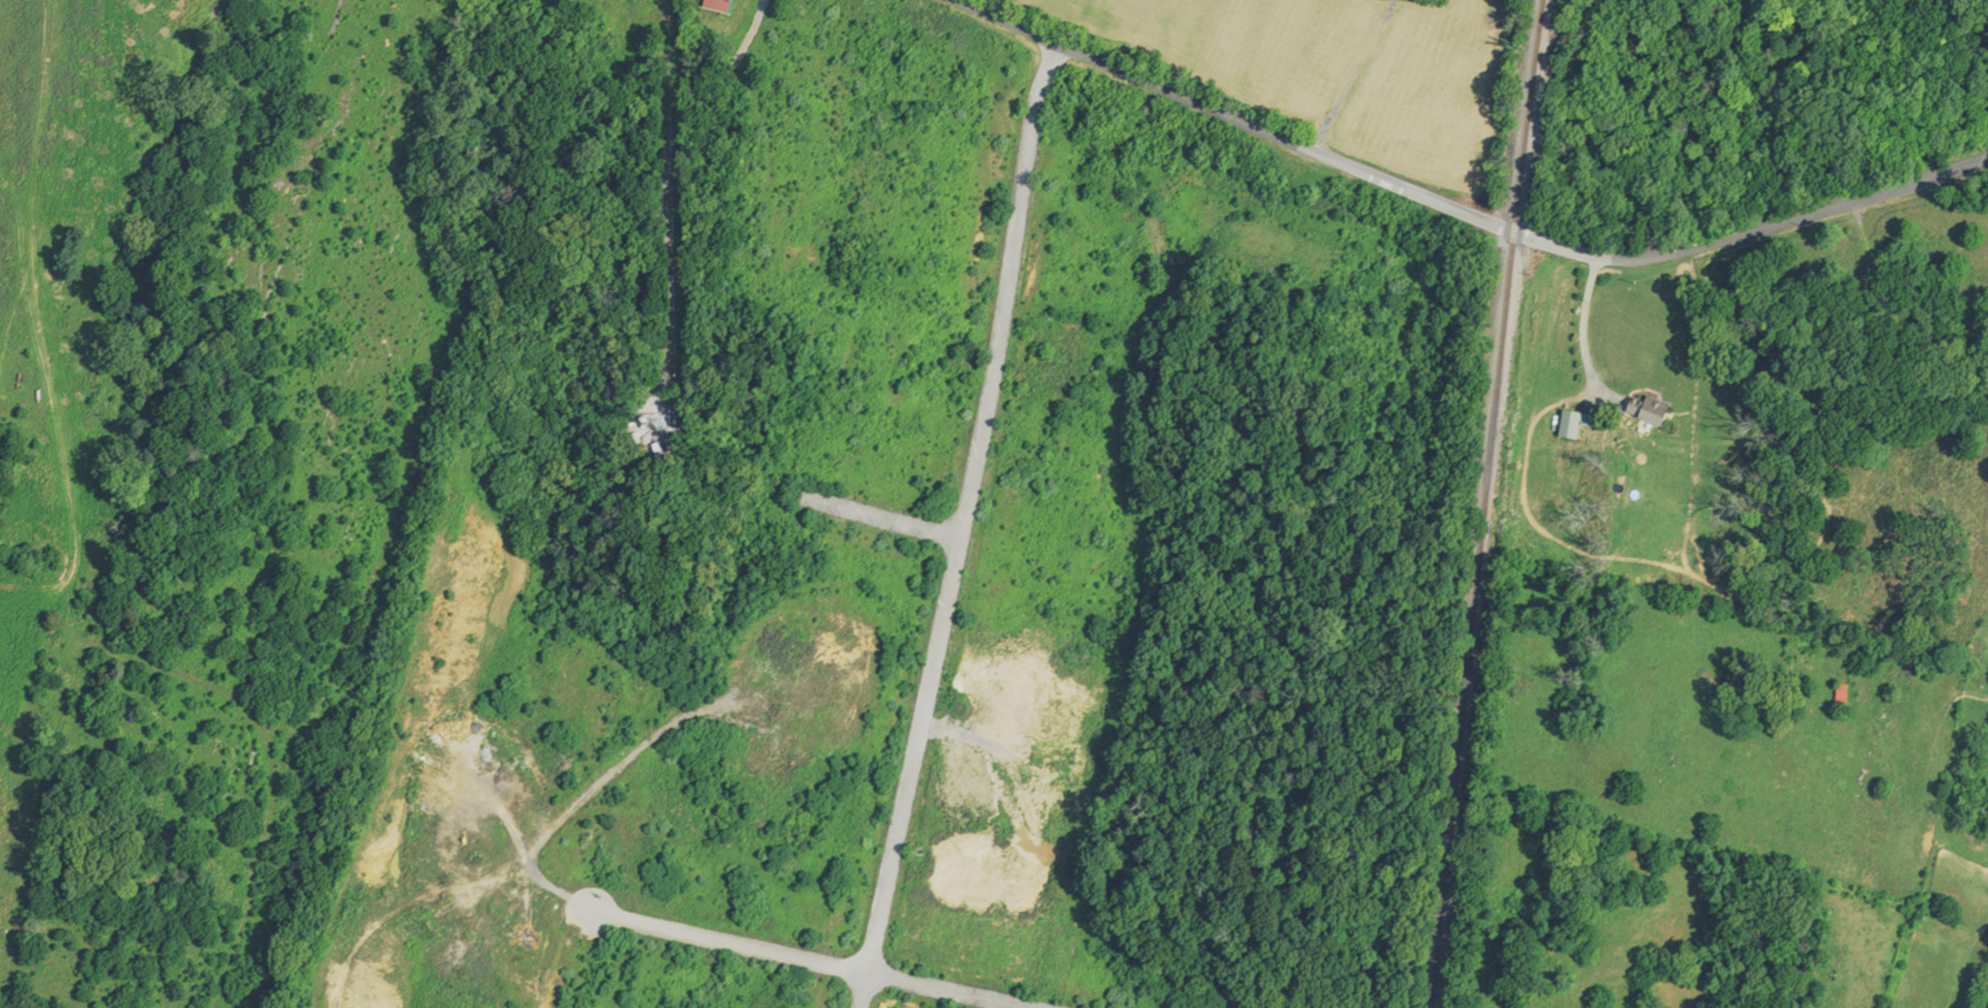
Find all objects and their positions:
building: (721, 5)
railway: (1534, 117)
road: (1250, 124)
road: (1772, 224)
road: (1587, 323)
building: (1654, 409)
building: (1574, 424)
road: (885, 518)
road: (963, 526)
railway: (1478, 621)
building: (1846, 697)
road: (731, 942)
road: (952, 990)

